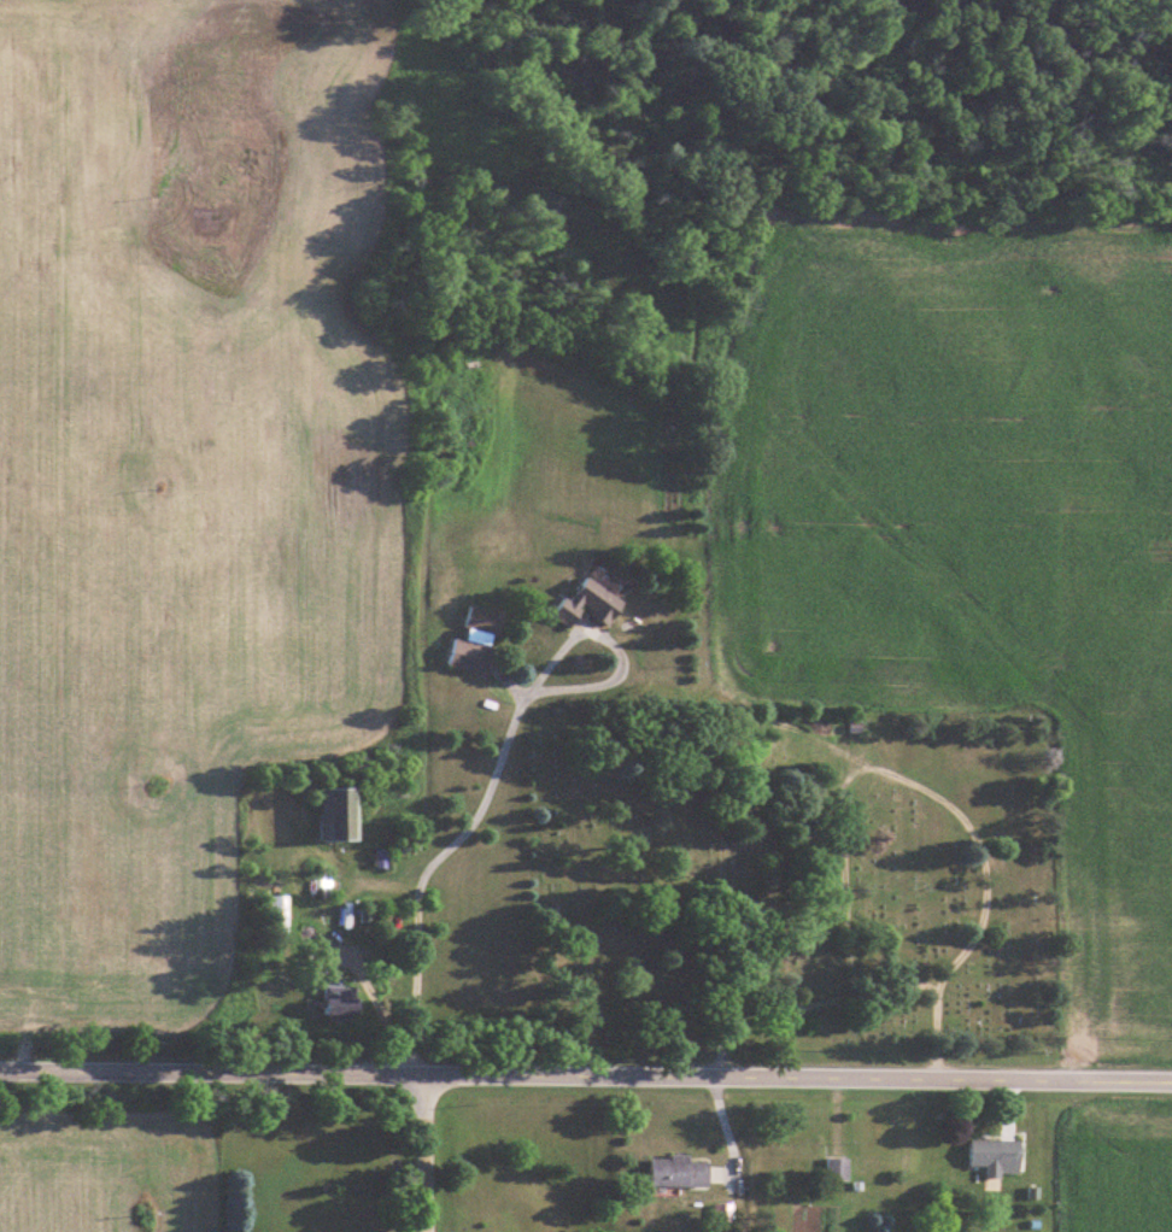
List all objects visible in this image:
building: (592, 602)
building: (485, 620)
building: (471, 656)
road: (497, 769)
building: (342, 814)
park: (793, 885)
building: (277, 905)
building: (344, 999)
road: (585, 1078)
road: (424, 1155)
building: (997, 1156)
building: (838, 1169)
building: (680, 1171)

